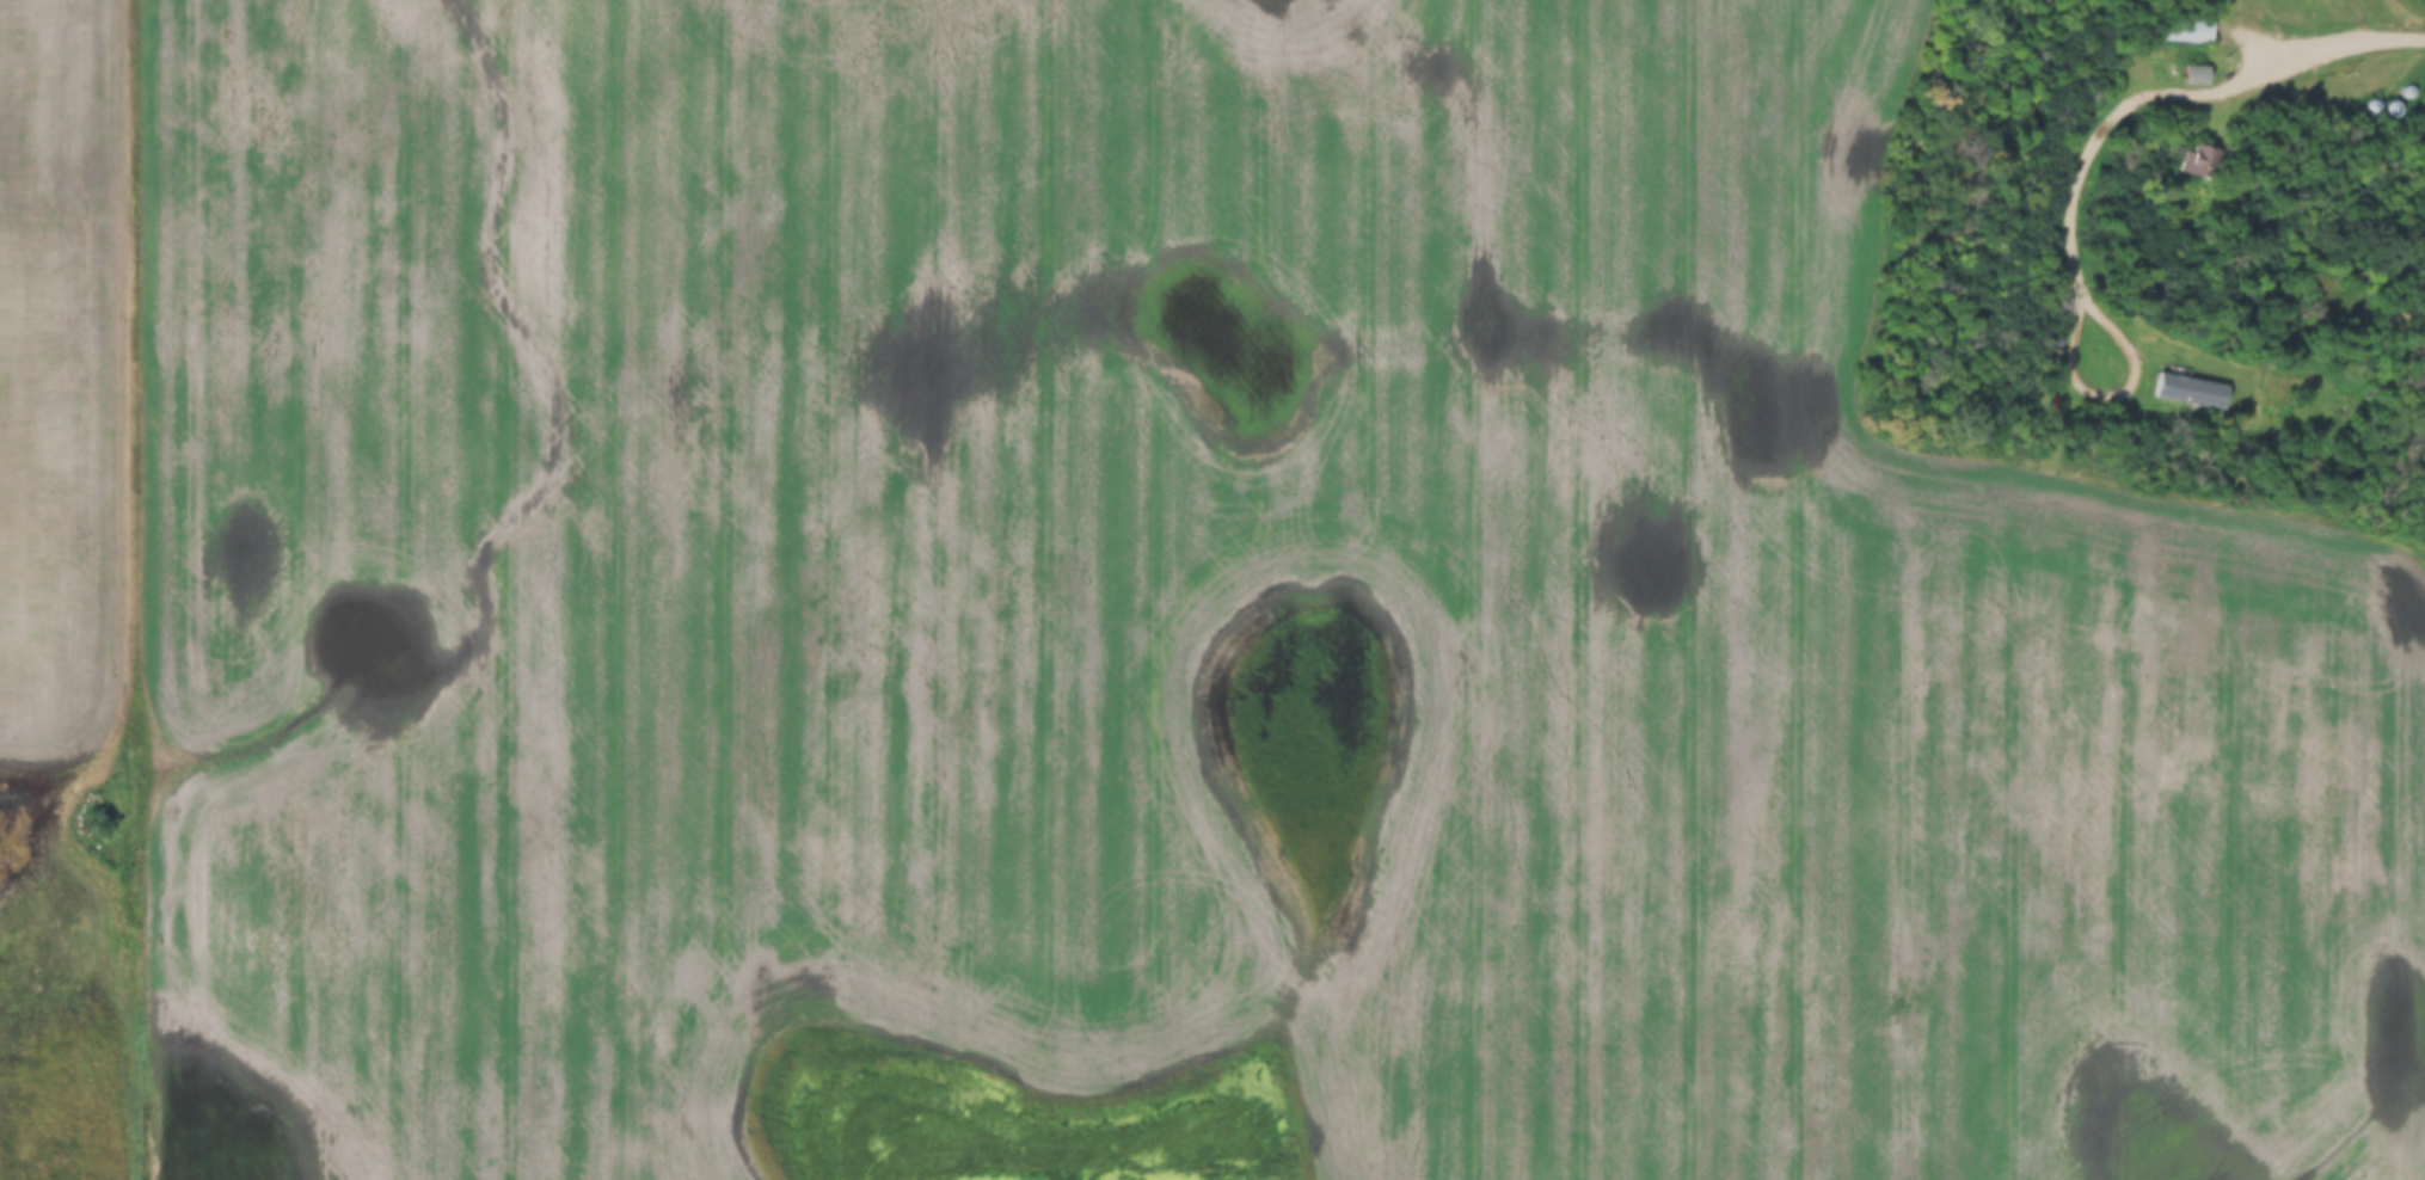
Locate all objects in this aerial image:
road: (2346, 44)
building: (2198, 78)
building: (2196, 164)
road: (2067, 236)
building: (2192, 392)

